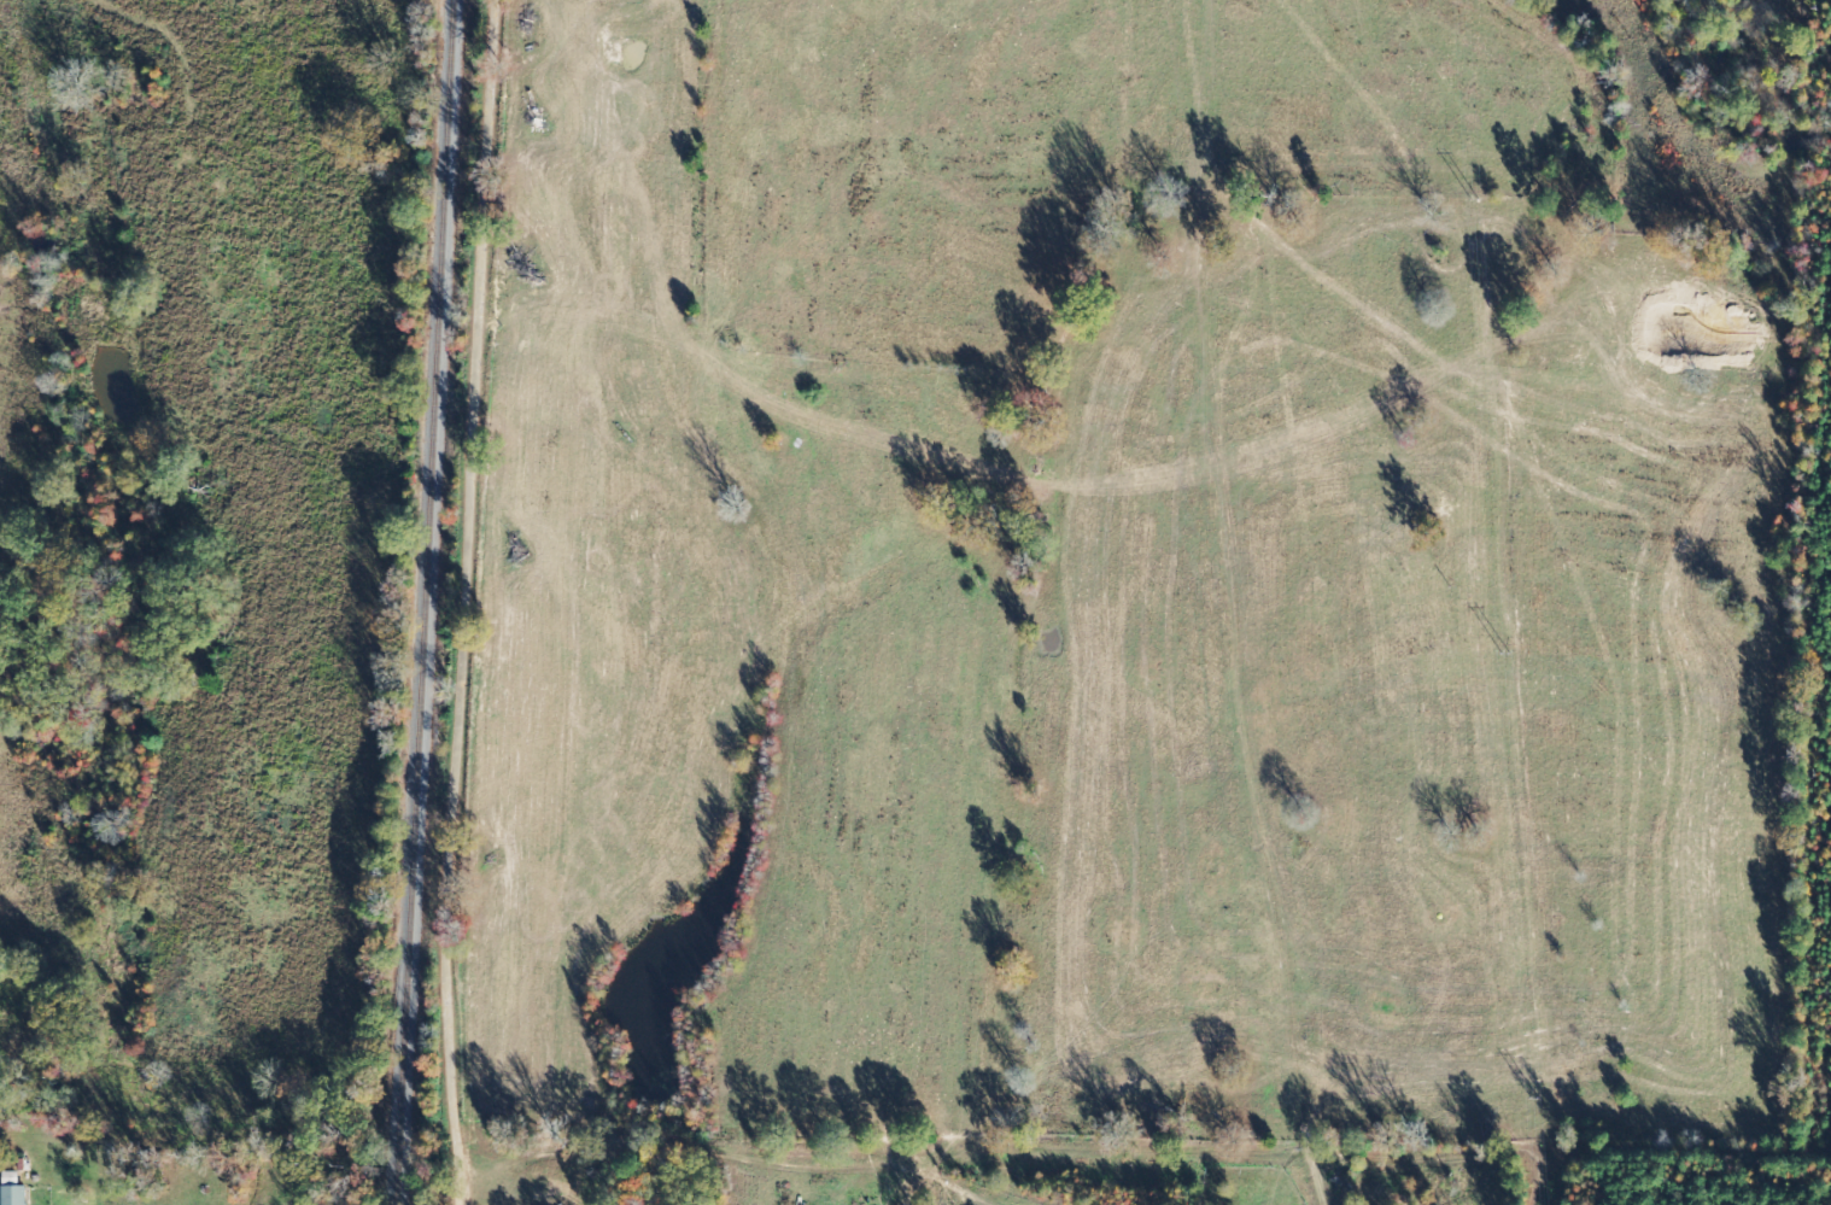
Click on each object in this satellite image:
power tower: (1476, 203)
road: (526, 574)
railway: (433, 602)
power tower: (1505, 655)
power tower: (1534, 1100)
road: (464, 1152)
road: (546, 1176)

